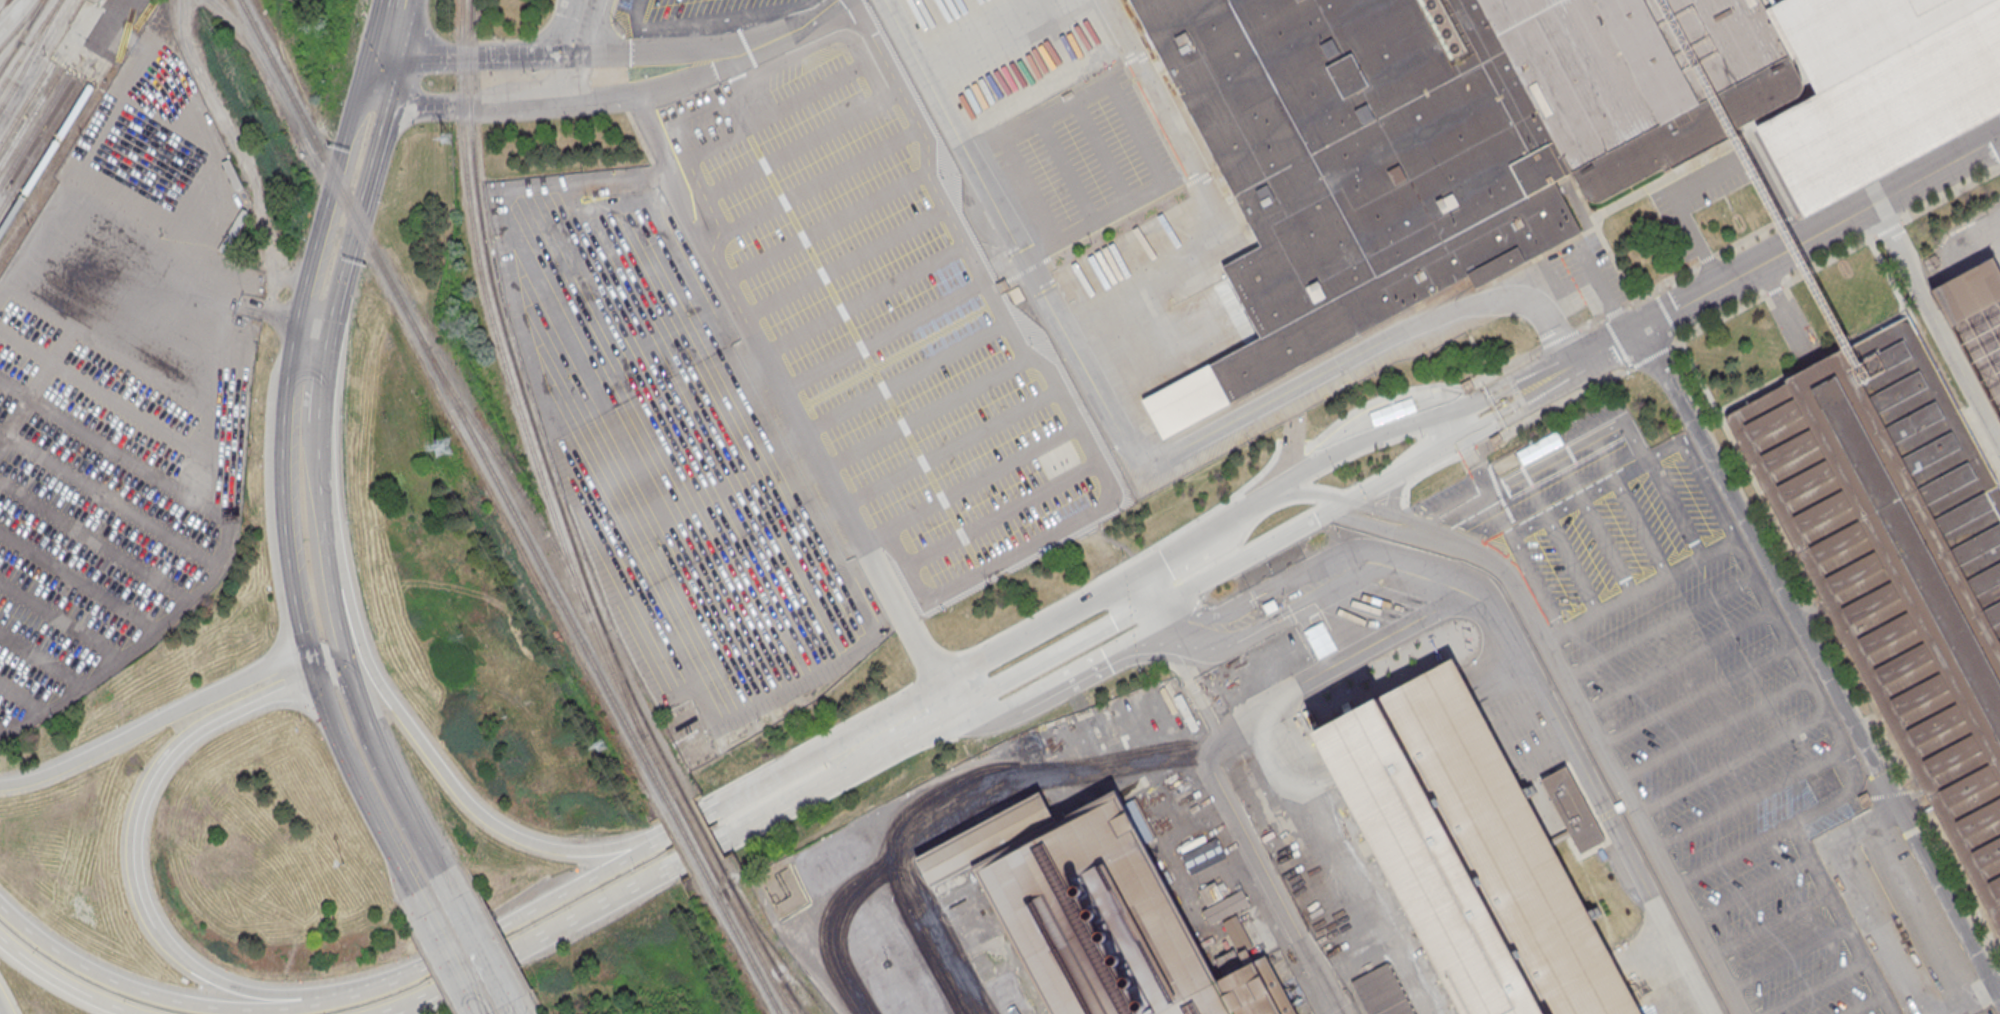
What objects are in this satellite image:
railway: (1999, 0)
road: (825, 14)
railway: (472, 15)
parking lot: (701, 16)
road: (712, 18)
railway: (20, 24)
road: (396, 27)
road: (1984, 28)
road: (561, 32)
railway: (22, 35)
railway: (29, 44)
road: (878, 46)
road: (667, 49)
traffic signals: (589, 51)
traffic signals: (535, 52)
railway: (9, 54)
road: (462, 54)
railway: (31, 55)
traffic signals: (390, 55)
road: (587, 56)
road: (749, 77)
road: (681, 81)
road: (880, 90)
building: (1886, 95)
railway: (26, 103)
road: (458, 107)
traffic signals: (386, 110)
road: (777, 112)
railway: (31, 117)
railway: (35, 129)
road: (645, 133)
road: (1137, 133)
power tower: (445, 139)
building: (1443, 139)
railway: (40, 144)
road: (796, 149)
road: (1103, 150)
road: (242, 153)
parking lot: (1085, 156)
railway: (45, 159)
road: (1065, 172)
road: (1713, 172)
road: (820, 182)
parking lot: (1704, 184)
road: (367, 186)
road: (1032, 190)
road: (1207, 196)
road: (1951, 196)
road: (1787, 217)
building: (588, 221)
road: (321, 223)
road: (827, 226)
road: (1889, 229)
road: (1747, 238)
road: (1788, 250)
road: (1612, 255)
road: (1707, 259)
road: (1829, 262)
road: (845, 263)
parking lot: (599, 283)
road: (1660, 284)
road: (1602, 288)
road: (1775, 290)
building: (1968, 290)
road: (999, 307)
road: (284, 312)
road: (1614, 312)
road: (1719, 319)
road: (1591, 323)
road: (1936, 324)
road: (1560, 338)
road: (1617, 342)
road: (763, 352)
road: (1651, 356)
road: (322, 369)
road: (1702, 381)
parking lot: (122, 387)
road: (1420, 388)
road: (786, 389)
road: (1758, 391)
parking lot: (823, 398)
railway: (455, 404)
railway: (530, 413)
railway: (521, 414)
road: (1520, 427)
road: (806, 431)
road: (1464, 436)
road: (1367, 437)
road: (1134, 443)
road: (1576, 446)
power tower: (442, 449)
road: (575, 468)
road: (826, 468)
road: (1700, 470)
railway: (515, 482)
road: (1395, 493)
traffic signals: (1348, 501)
road: (317, 502)
road: (846, 503)
road: (1630, 506)
road: (1675, 507)
road: (1260, 508)
road: (1454, 508)
road: (1003, 514)
road: (1397, 515)
road: (1596, 525)
road: (281, 529)
road: (1384, 529)
road: (866, 540)
road: (1561, 543)
road: (1243, 558)
building: (1899, 562)
road: (1525, 563)
road: (976, 575)
road: (1155, 575)
road: (1640, 590)
traffic signals: (1134, 599)
road: (1250, 600)
road: (904, 619)
road: (334, 620)
road: (1658, 625)
road: (1318, 636)
road: (1115, 652)
traffic signals: (305, 653)
road: (325, 657)
road: (1677, 660)
road: (819, 661)
road: (308, 663)
road: (1819, 664)
road: (1329, 666)
road: (1113, 668)
traffic signals: (312, 674)
road: (986, 675)
railway: (622, 682)
parking lot: (1690, 690)
road: (1694, 694)
road: (357, 701)
road: (1520, 713)
road: (206, 722)
road: (153, 724)
building: (1105, 727)
road: (1712, 727)
parking lot: (1526, 728)
power tower: (600, 744)
road: (1572, 747)
road: (1540, 751)
road: (1608, 759)
road: (1730, 762)
road: (446, 777)
road: (355, 786)
road: (944, 789)
road: (1851, 791)
road: (744, 794)
road: (1749, 799)
road: (404, 807)
building: (1572, 808)
railway: (703, 830)
railway: (694, 835)
railway: (685, 839)
building: (1469, 853)
road: (1731, 855)
road: (136, 870)
road: (1275, 887)
road: (1750, 890)
road: (617, 894)
road: (416, 904)
building: (1224, 905)
building: (1095, 913)
road: (1768, 922)
road: (827, 927)
road: (1887, 929)
road: (486, 935)
railway: (759, 937)
railway: (751, 940)
railway: (741, 941)
road: (477, 942)
road: (1787, 958)
road: (448, 964)
road: (59, 983)
road: (220, 984)
road: (143, 988)
road: (1812, 988)
building: (1383, 992)
railway: (797, 1000)
road: (1862, 1004)
road: (0, 1012)

